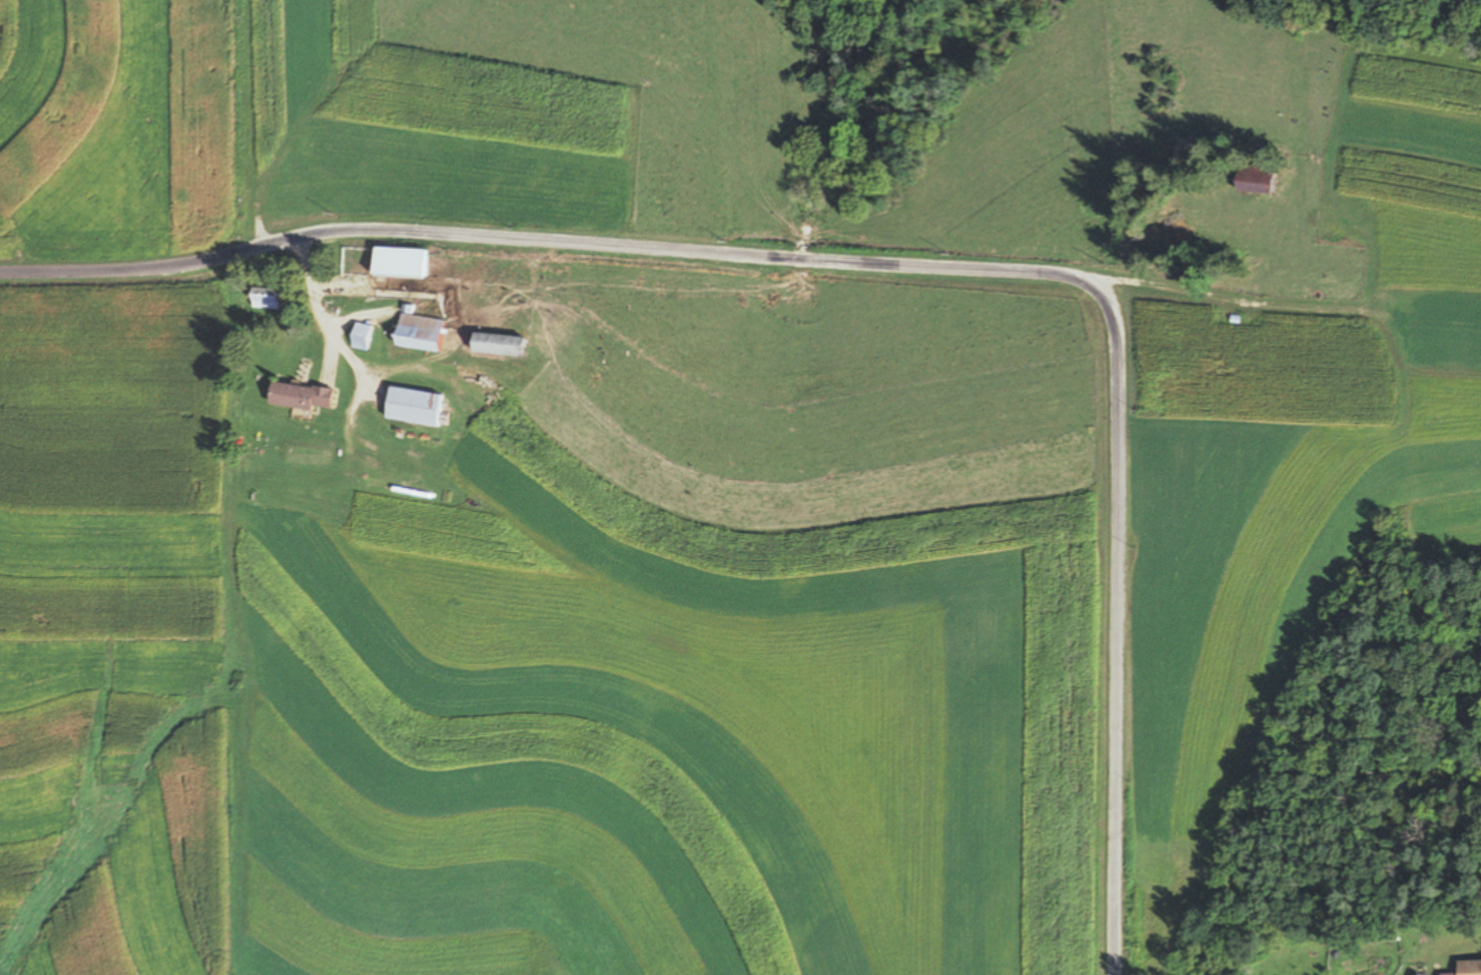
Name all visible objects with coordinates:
road: (569, 248)
building: (398, 263)
building: (266, 300)
building: (417, 332)
building: (361, 338)
building: (497, 345)
building: (300, 397)
building: (413, 407)
road: (1119, 649)
building: (1468, 968)

